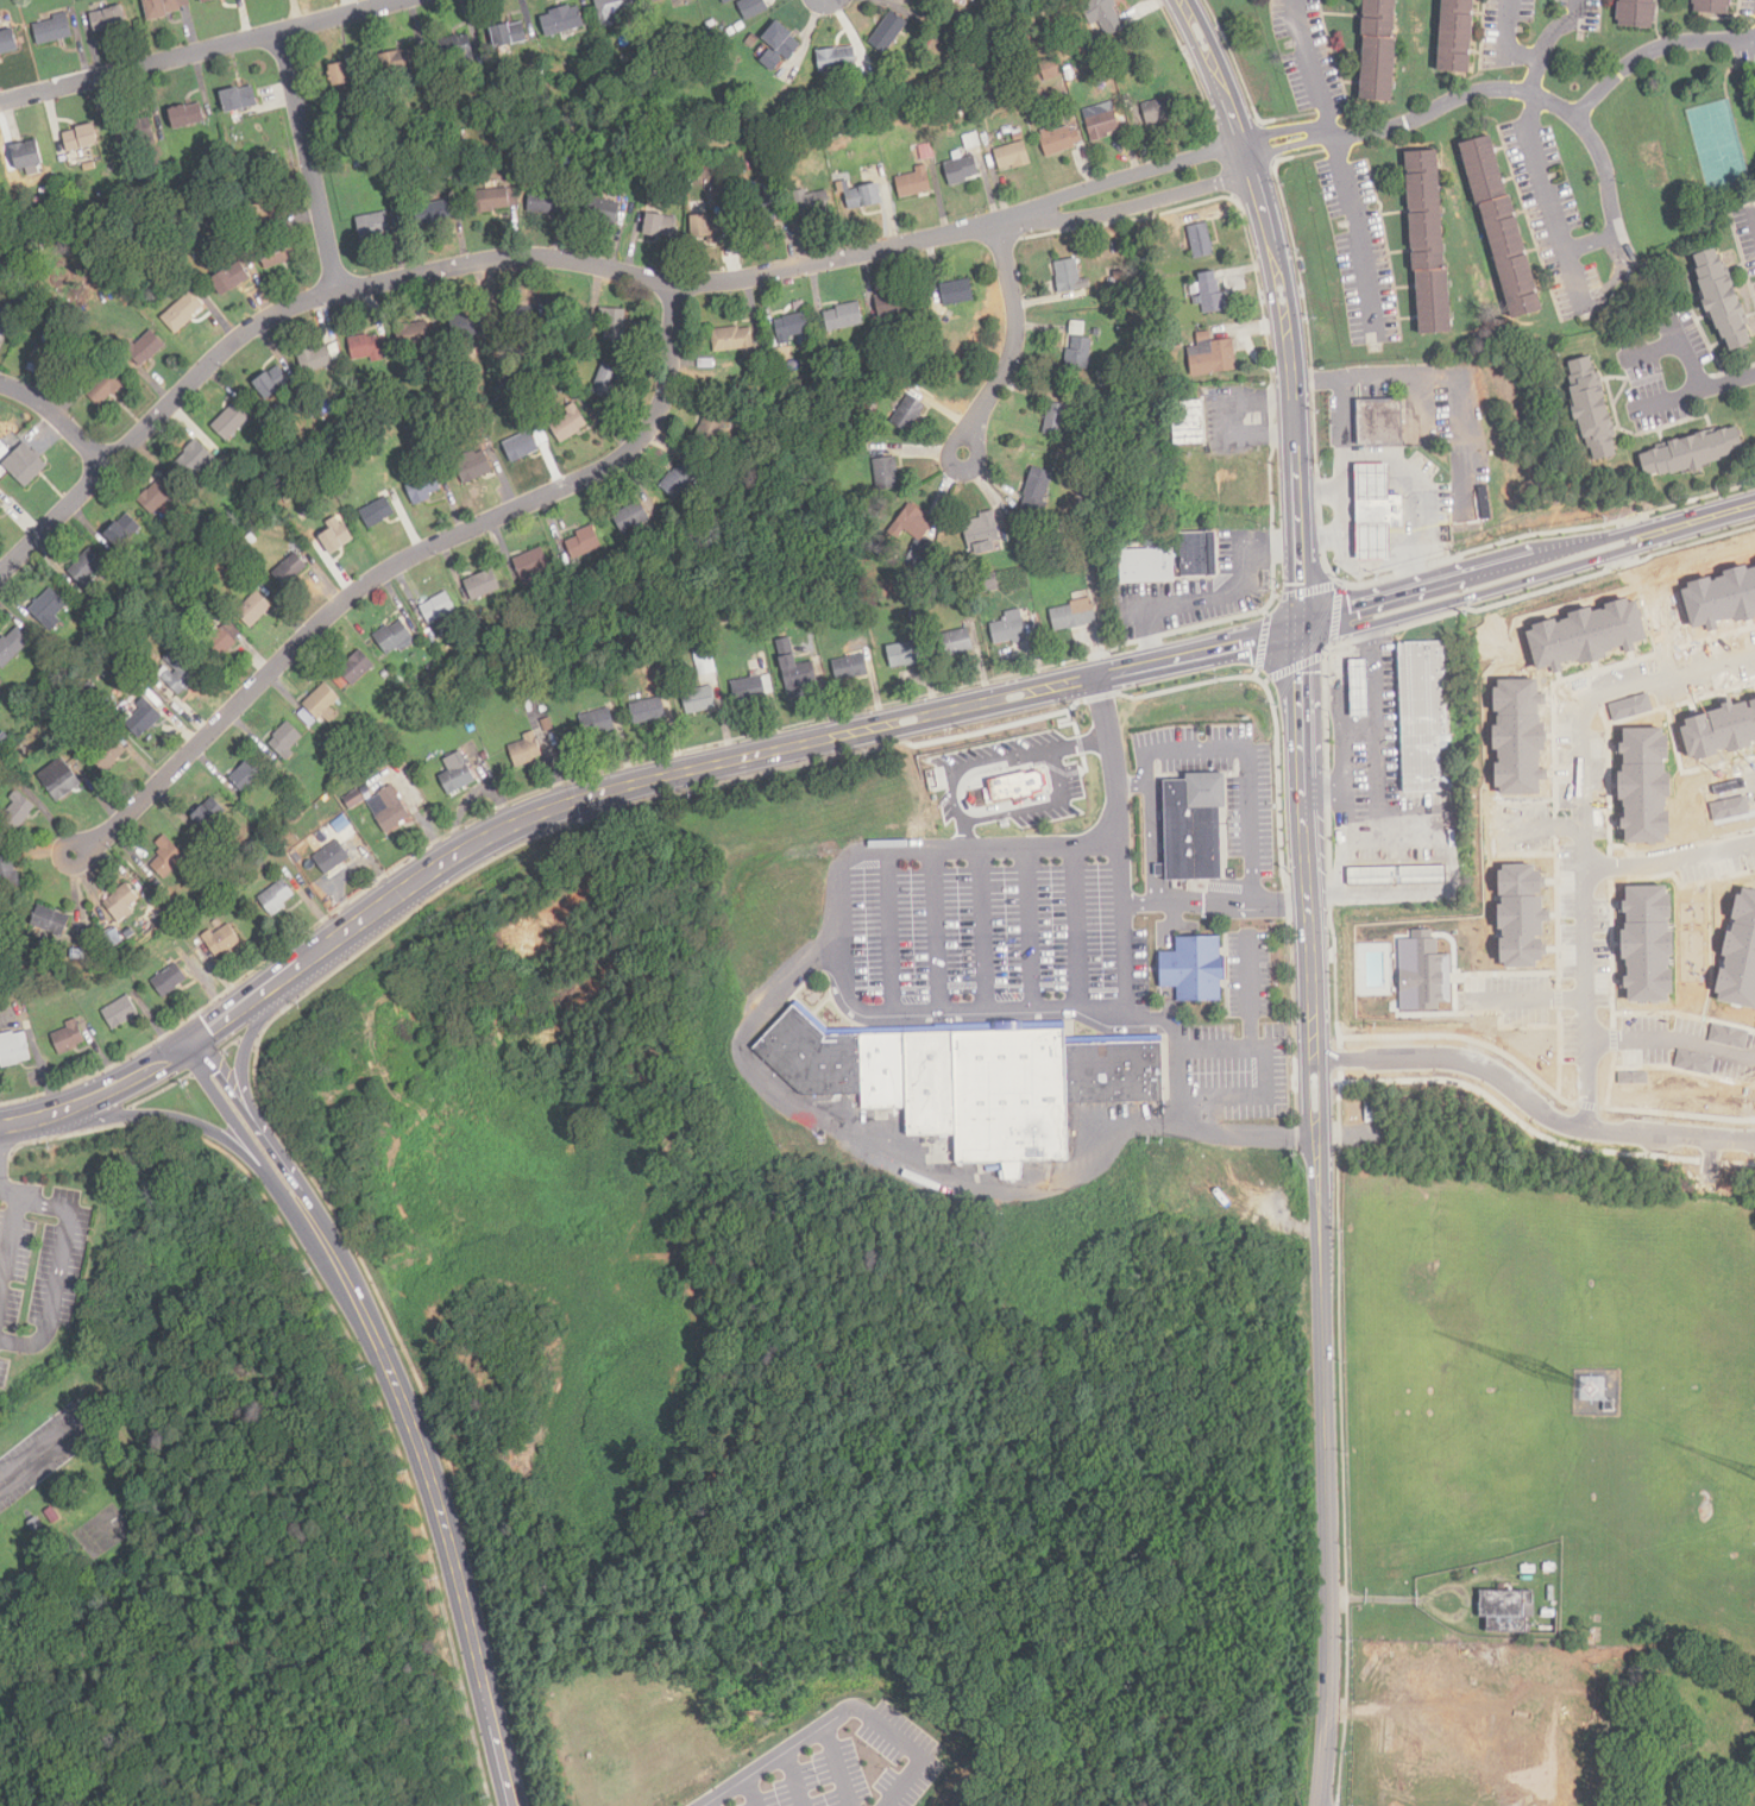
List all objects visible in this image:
building: (206, 1)
building: (659, 1)
building: (728, 1)
building: (164, 6)
building: (1711, 6)
building: (614, 11)
building: (1105, 12)
building: (1637, 14)
building: (109, 20)
building: (562, 21)
building: (954, 24)
building: (711, 25)
building: (54, 30)
road: (1560, 31)
building: (888, 33)
building: (509, 37)
building: (1455, 37)
road: (1511, 38)
building: (8, 42)
building: (782, 42)
building: (454, 50)
building: (1377, 50)
road: (201, 51)
road: (1653, 51)
building: (673, 55)
building: (837, 61)
building: (400, 63)
road: (1311, 65)
building: (1051, 70)
road: (1214, 71)
building: (347, 74)
building: (578, 74)
road: (1536, 77)
road: (1524, 93)
building: (240, 100)
building: (1127, 101)
building: (960, 108)
building: (640, 112)
building: (1159, 113)
building: (187, 117)
building: (893, 122)
building: (1102, 127)
road: (1287, 130)
building: (136, 133)
building: (1018, 134)
building: (81, 139)
building: (971, 141)
building: (1057, 143)
road: (1289, 145)
building: (766, 146)
building: (926, 152)
building: (26, 156)
building: (1013, 157)
building: (276, 162)
road: (309, 163)
building: (697, 163)
building: (961, 172)
building: (292, 181)
building: (914, 184)
road: (1546, 196)
building: (863, 199)
building: (493, 201)
building: (546, 203)
building: (812, 204)
building: (90, 212)
building: (603, 212)
building: (434, 215)
building: (760, 215)
building: (372, 227)
road: (1353, 227)
building: (660, 228)
building: (707, 228)
building: (1502, 228)
road: (1591, 241)
building: (1201, 243)
building: (1429, 244)
building: (278, 252)
road: (574, 260)
building: (1120, 272)
building: (1068, 277)
building: (231, 279)
building: (169, 285)
building: (1207, 292)
building: (957, 295)
building: (1721, 300)
building: (897, 306)
building: (1160, 306)
building: (182, 313)
building: (52, 319)
building: (843, 319)
building: (5, 320)
building: (520, 321)
building: (614, 326)
building: (466, 327)
building: (791, 329)
building: (1191, 329)
building: (1097, 334)
building: (415, 338)
road: (1015, 338)
building: (734, 342)
building: (864, 348)
road: (1652, 348)
building: (145, 350)
building: (365, 350)
road: (1684, 352)
building: (1078, 355)
building: (1213, 358)
building: (315, 359)
building: (560, 364)
building: (706, 365)
building: (849, 371)
road: (1445, 372)
building: (272, 383)
road: (1729, 383)
building: (606, 384)
road: (1292, 386)
building: (107, 388)
building: (769, 390)
building: (477, 395)
road: (1668, 397)
building: (322, 401)
building: (410, 402)
building: (537, 402)
building: (1591, 409)
building: (908, 416)
road: (58, 419)
building: (1056, 422)
building: (231, 423)
building: (1382, 423)
building: (1189, 424)
building: (568, 426)
building: (426, 432)
building: (709, 435)
building: (521, 448)
building: (42, 449)
building: (1692, 452)
building: (6, 455)
building: (195, 460)
building: (472, 467)
building: (29, 468)
building: (886, 476)
building: (1369, 478)
road: (1344, 480)
road: (1409, 480)
building: (677, 483)
road: (1321, 489)
building: (422, 490)
building: (1036, 495)
building: (158, 497)
building: (288, 501)
building: (1485, 503)
building: (1, 508)
building: (1378, 508)
building: (377, 515)
building: (630, 518)
building: (911, 526)
building: (329, 527)
building: (980, 531)
building: (124, 533)
building: (1062, 536)
building: (336, 539)
building: (1370, 539)
building: (1071, 542)
building: (583, 545)
building: (883, 552)
building: (1195, 552)
building: (917, 560)
road: (402, 561)
road: (1386, 564)
building: (531, 565)
building: (1145, 565)
building: (86, 568)
building: (290, 571)
road: (1529, 572)
building: (161, 580)
building: (992, 580)
building: (482, 587)
building: (1713, 600)
building: (48, 608)
building: (253, 609)
building: (436, 610)
building: (913, 611)
building: (1072, 613)
building: (1007, 627)
traffic signals: (1303, 633)
building: (1585, 634)
building: (700, 636)
building: (391, 638)
building: (955, 641)
building: (220, 647)
building: (12, 648)
building: (127, 648)
building: (902, 653)
building: (704, 661)
building: (357, 668)
building: (434, 668)
building: (850, 669)
building: (797, 671)
building: (178, 672)
building: (90, 687)
building: (751, 691)
building: (1359, 691)
building: (321, 701)
building: (699, 701)
building: (545, 707)
road: (1373, 711)
building: (647, 713)
building: (1422, 716)
building: (144, 719)
building: (307, 720)
building: (346, 725)
building: (597, 725)
building: (547, 728)
building: (1719, 729)
building: (1517, 736)
building: (4, 737)
building: (285, 742)
road: (1240, 745)
building: (332, 748)
building: (526, 751)
building: (109, 756)
building: (484, 757)
road: (715, 764)
building: (365, 769)
building: (459, 772)
building: (247, 776)
building: (1643, 784)
building: (1015, 785)
road: (1599, 785)
building: (63, 786)
building: (354, 801)
building: (19, 810)
building: (388, 811)
building: (209, 816)
building: (1193, 825)
road: (1344, 837)
road: (1152, 841)
road: (1678, 854)
building: (333, 858)
building: (168, 861)
building: (8, 877)
building: (1397, 879)
building: (163, 891)
building: (277, 899)
building: (121, 901)
road: (1187, 901)
road: (1281, 901)
building: (156, 912)
building: (1521, 915)
building: (51, 921)
building: (216, 924)
road: (1081, 924)
road: (1031, 925)
road: (985, 926)
road: (939, 927)
building: (222, 940)
building: (1647, 943)
building: (1740, 954)
building: (77, 956)
building: (147, 967)
building: (1196, 968)
building: (141, 971)
building: (1422, 971)
building: (169, 982)
road: (1250, 988)
road: (1541, 992)
building: (99, 1005)
road: (946, 1006)
building: (120, 1014)
road: (1678, 1031)
building: (1728, 1036)
building: (69, 1038)
traffic signals: (190, 1045)
building: (13, 1047)
road: (1177, 1050)
building: (1693, 1062)
road: (1270, 1071)
building: (1633, 1076)
road: (1599, 1080)
building: (969, 1081)
road: (125, 1082)
road: (1530, 1107)
building: (1370, 1114)
road: (188, 1116)
road: (243, 1119)
road: (29, 1120)
road: (1, 1173)
road: (943, 1175)
road: (1321, 1219)
road: (14, 1225)
road: (2, 1270)
road: (58, 1272)
road: (2, 1284)
road: (354, 1352)
building: (1609, 1408)
road: (43, 1452)
road: (432, 1489)
building: (31, 1524)
building: (1504, 1611)
road: (837, 1714)
road: (839, 1764)
parking lot: (858, 1764)
road: (798, 1777)
road: (754, 1791)
road: (707, 1804)

